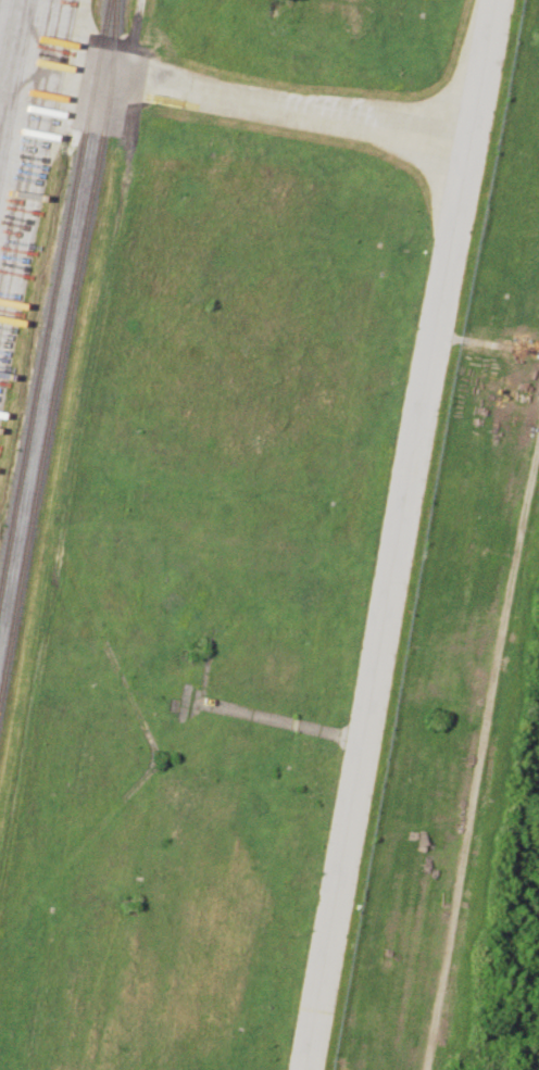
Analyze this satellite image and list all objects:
railway: (54, 302)
railway: (63, 356)
road: (482, 757)

